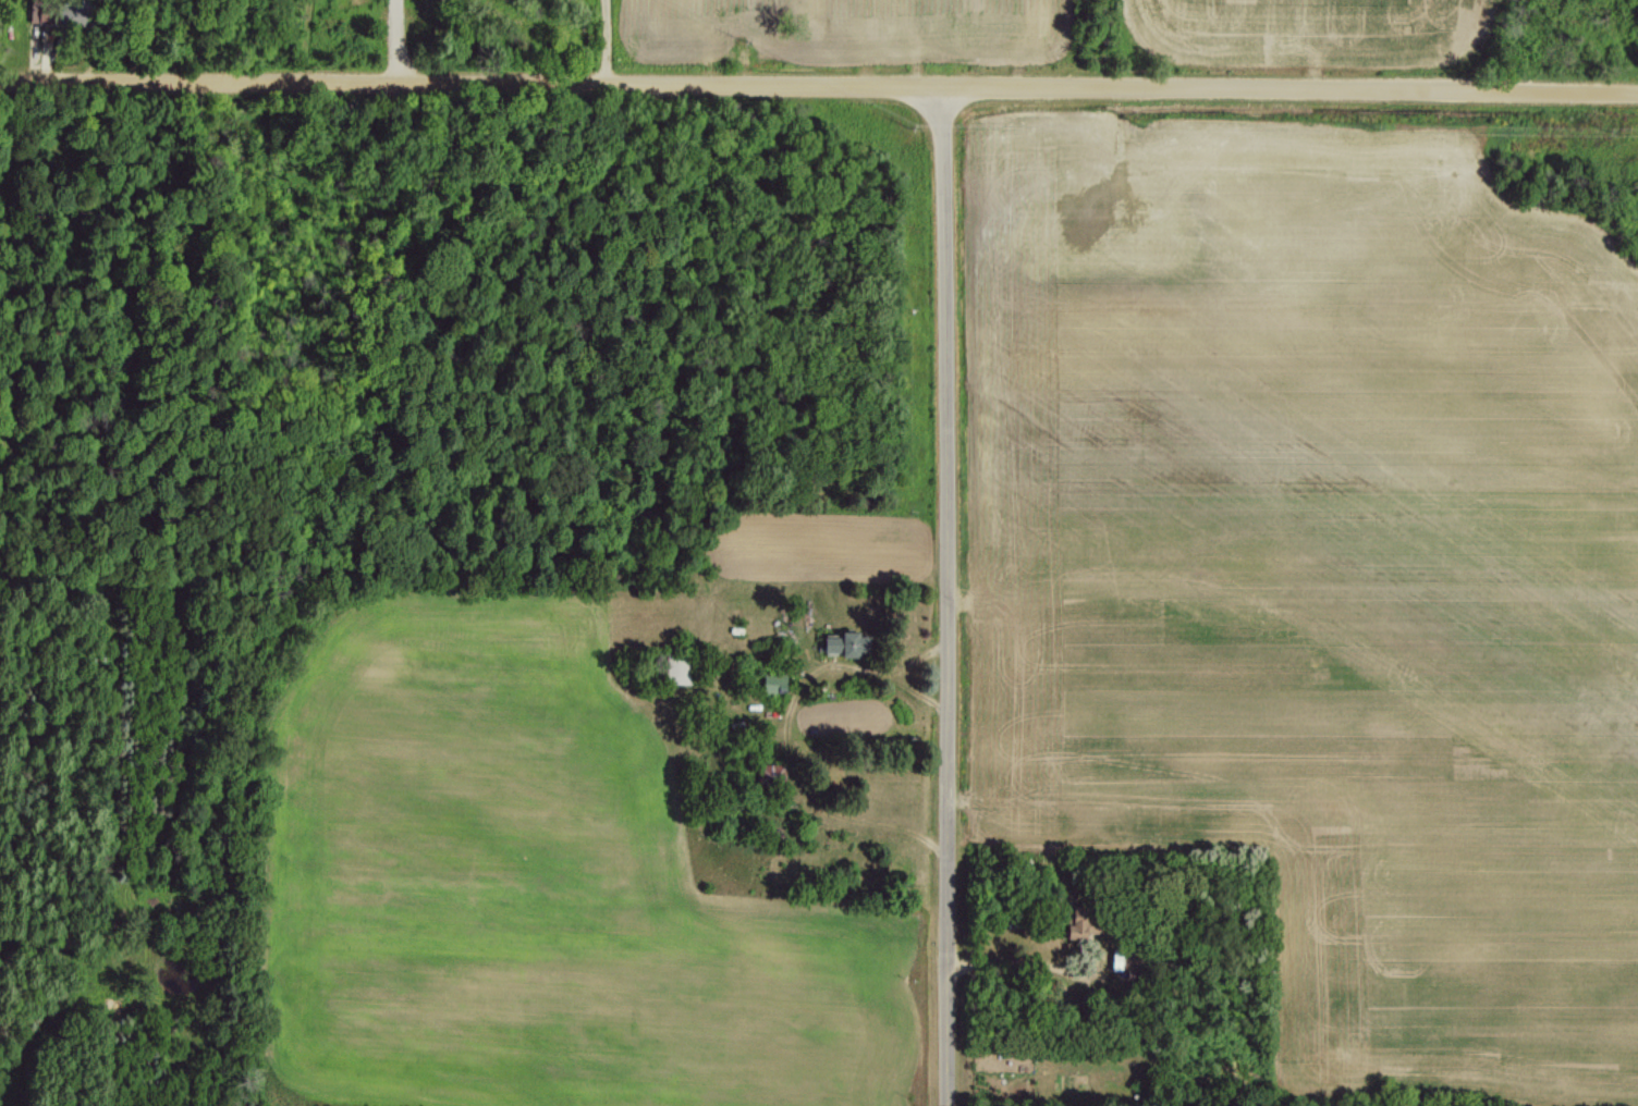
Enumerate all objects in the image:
building: (64, 16)
road: (601, 42)
road: (819, 86)
road: (952, 597)
building: (844, 642)
building: (675, 669)
road: (878, 673)
building: (772, 683)
road: (796, 774)
building: (1080, 922)

